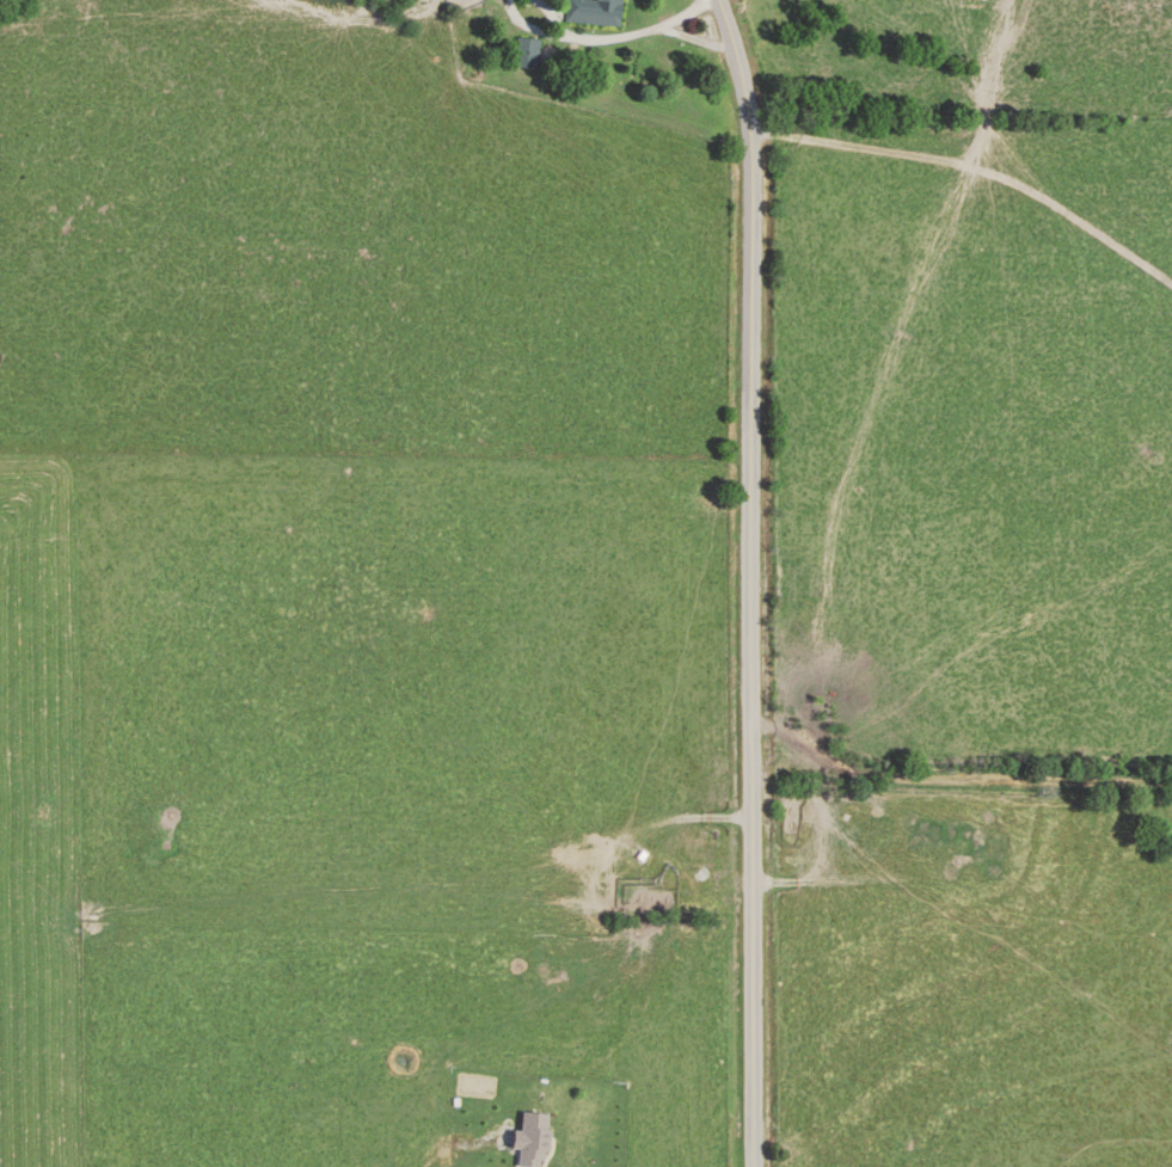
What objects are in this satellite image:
building: (596, 12)
road: (613, 41)
road: (697, 42)
road: (756, 582)
road: (810, 801)
road: (951, 805)
building: (534, 1140)

